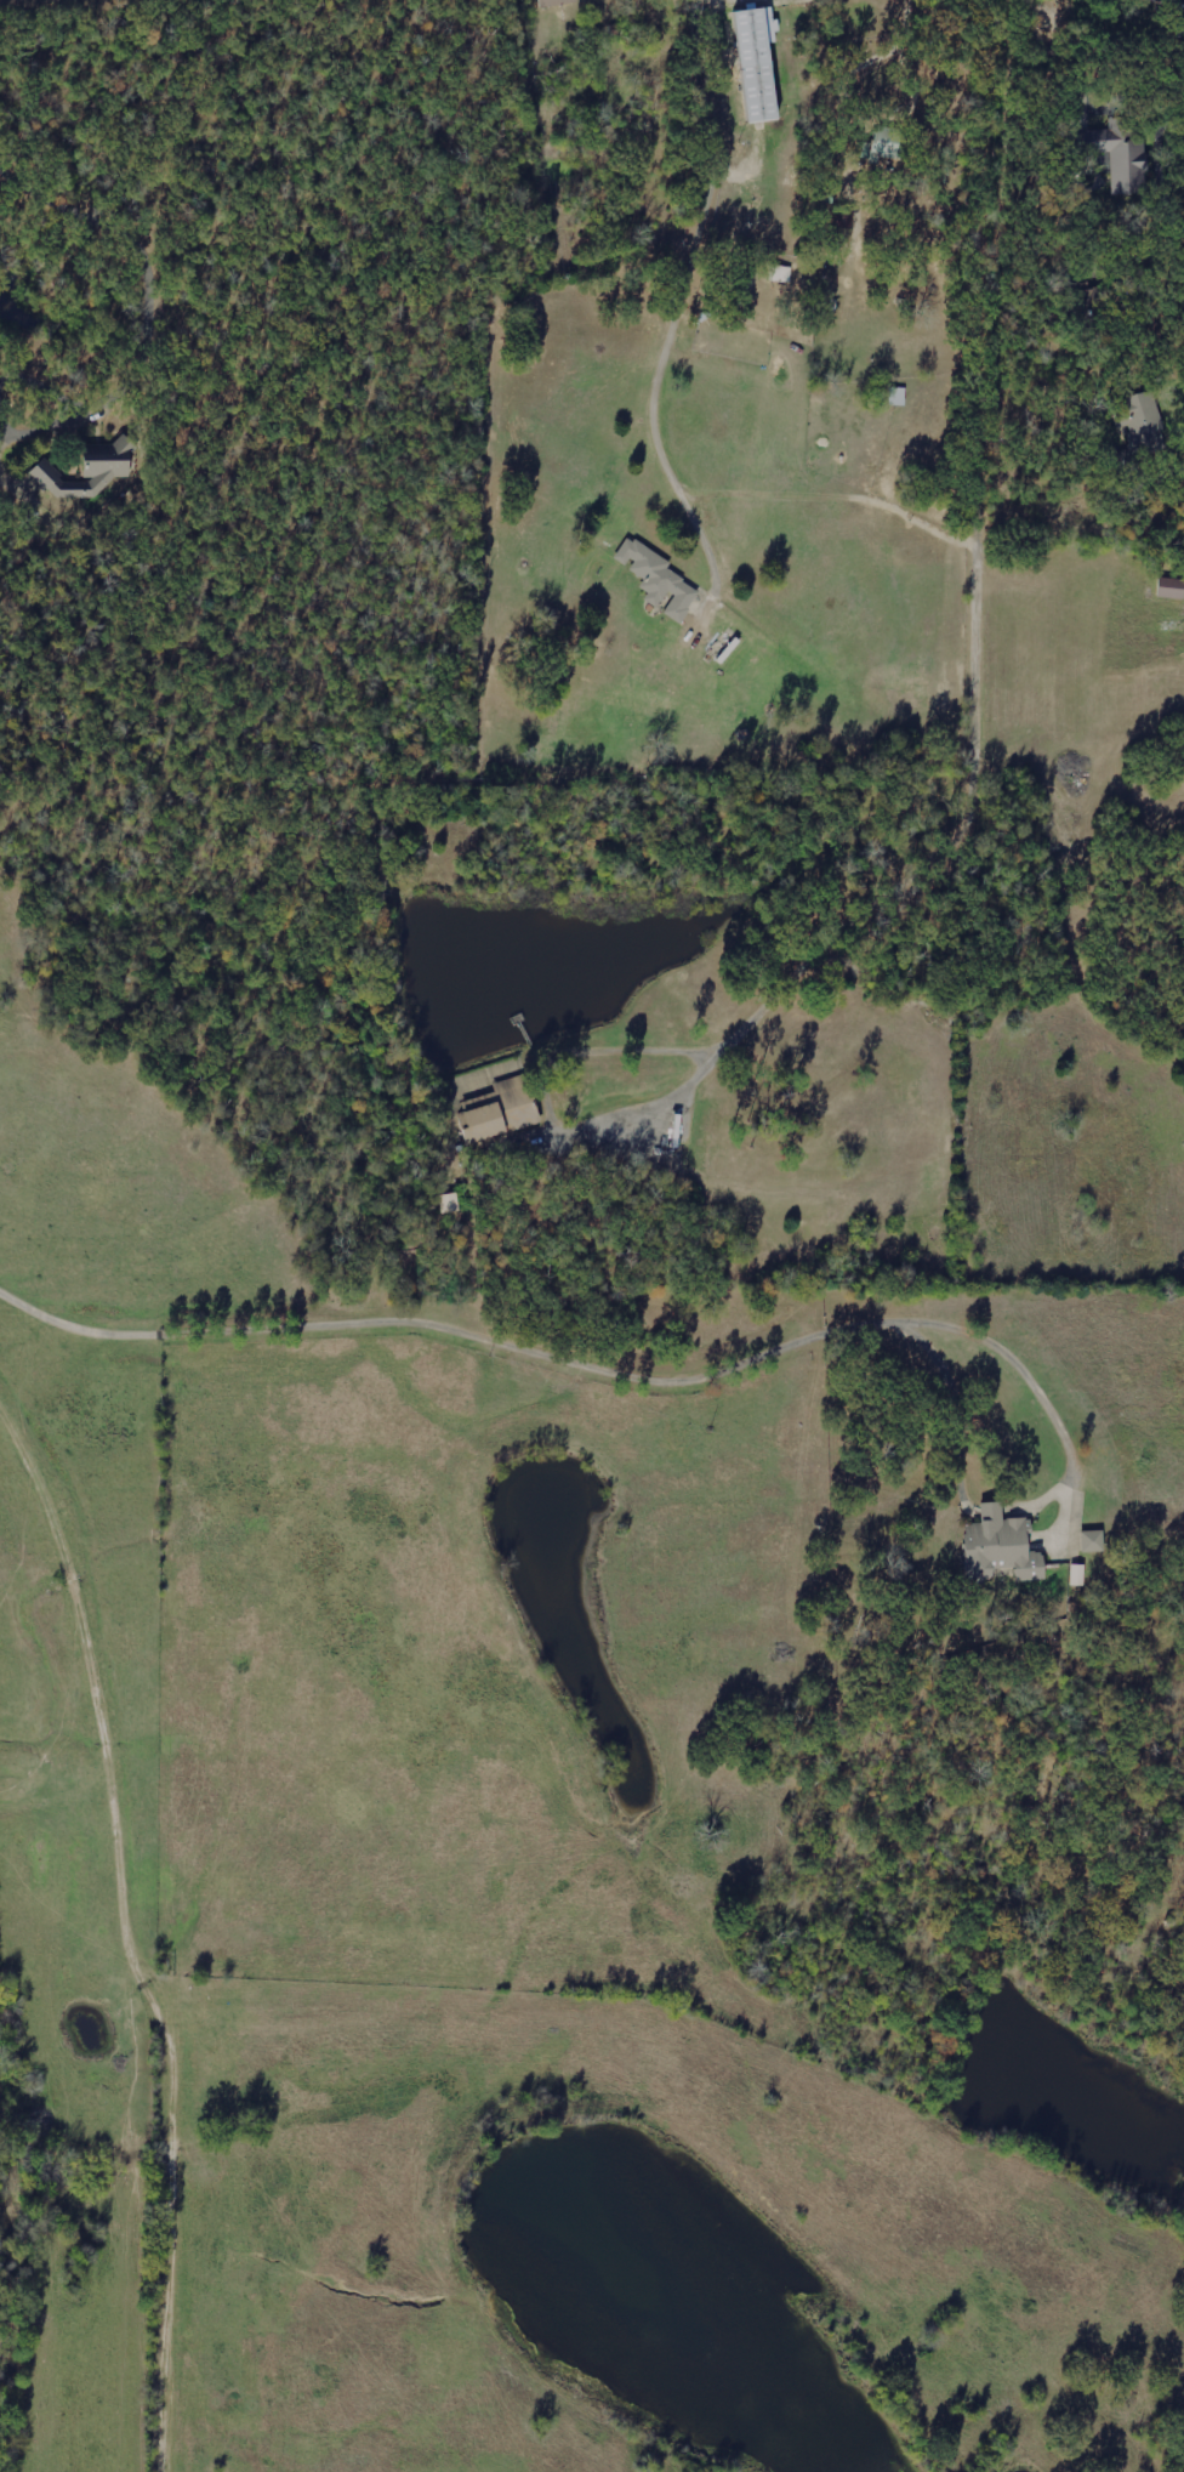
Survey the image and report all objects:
building: (556, 1)
building: (761, 62)
building: (1121, 153)
road: (1146, 284)
building: (1142, 417)
building: (91, 468)
building: (659, 578)
building: (1171, 587)
building: (502, 1110)
building: (1094, 1540)
building: (1003, 1545)
building: (1078, 1574)
road: (140, 1917)

